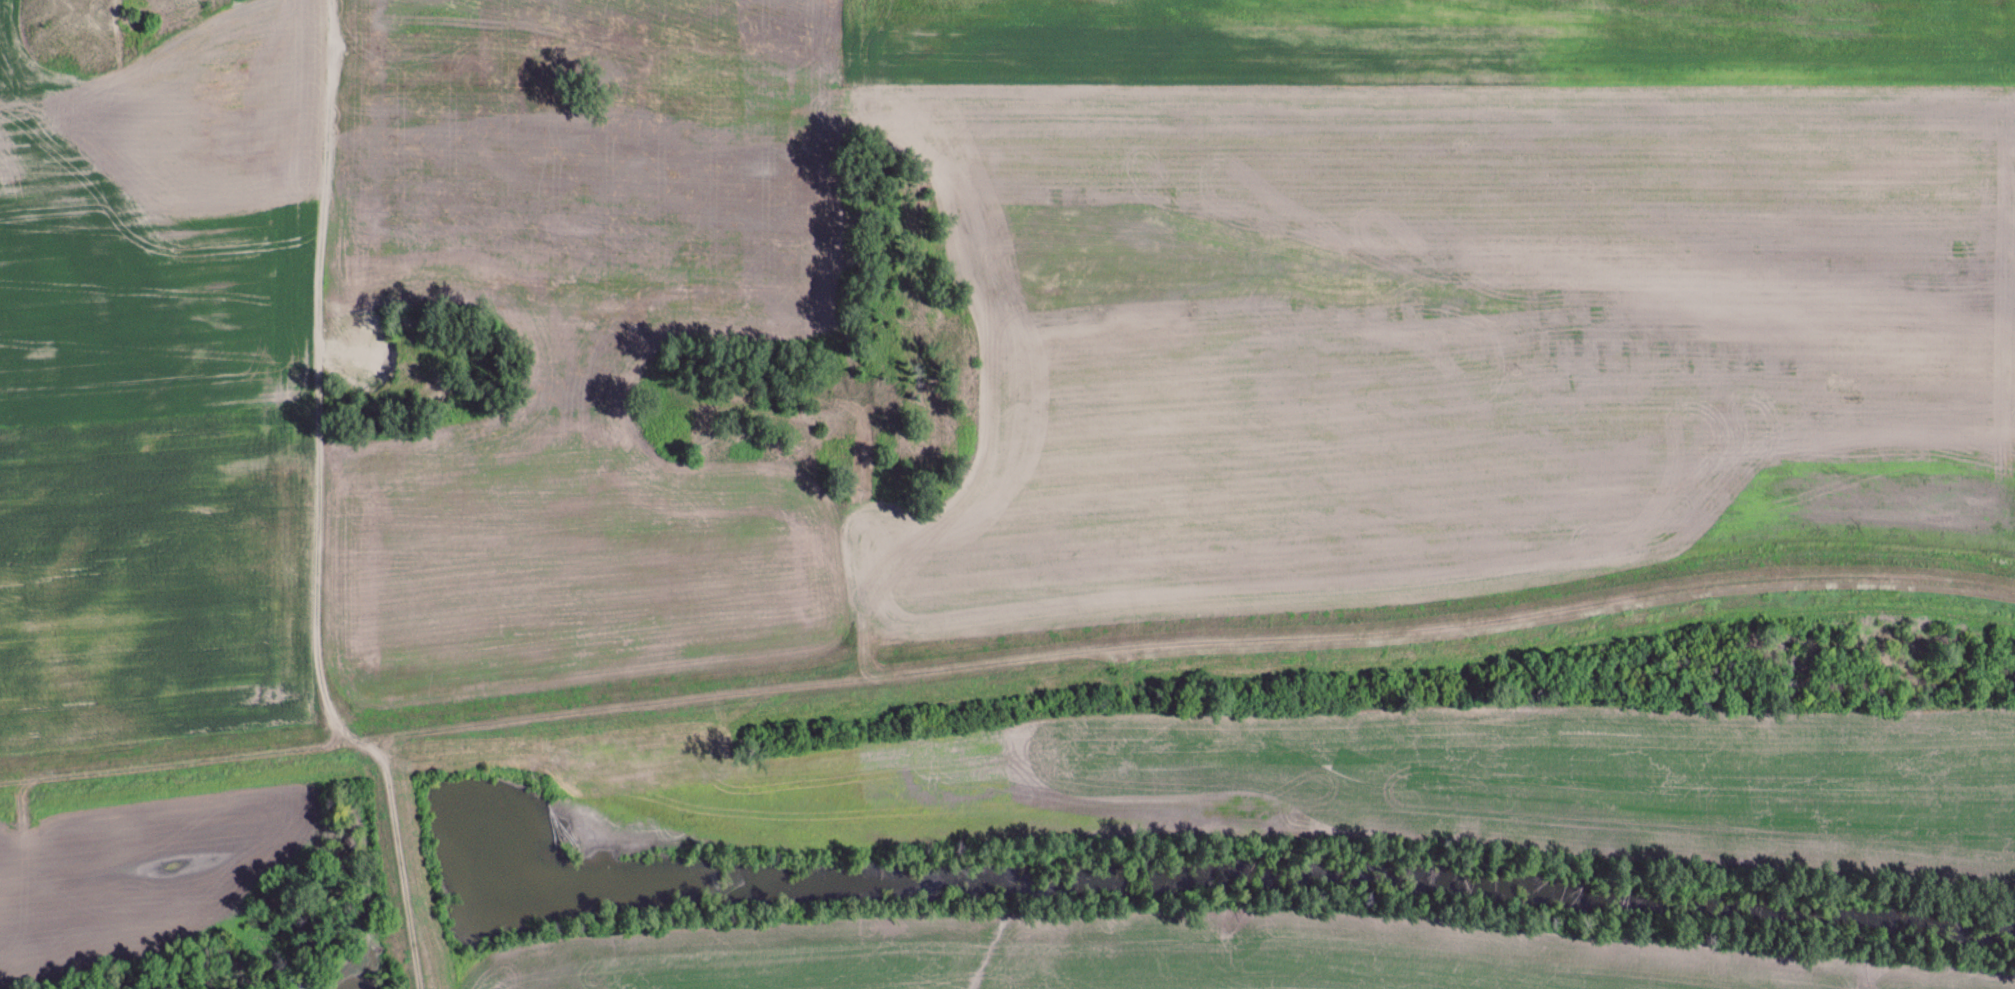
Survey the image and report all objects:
road: (12, 59)
road: (27, 59)
road: (378, 340)
road: (318, 376)
road: (1006, 664)
road: (397, 862)

